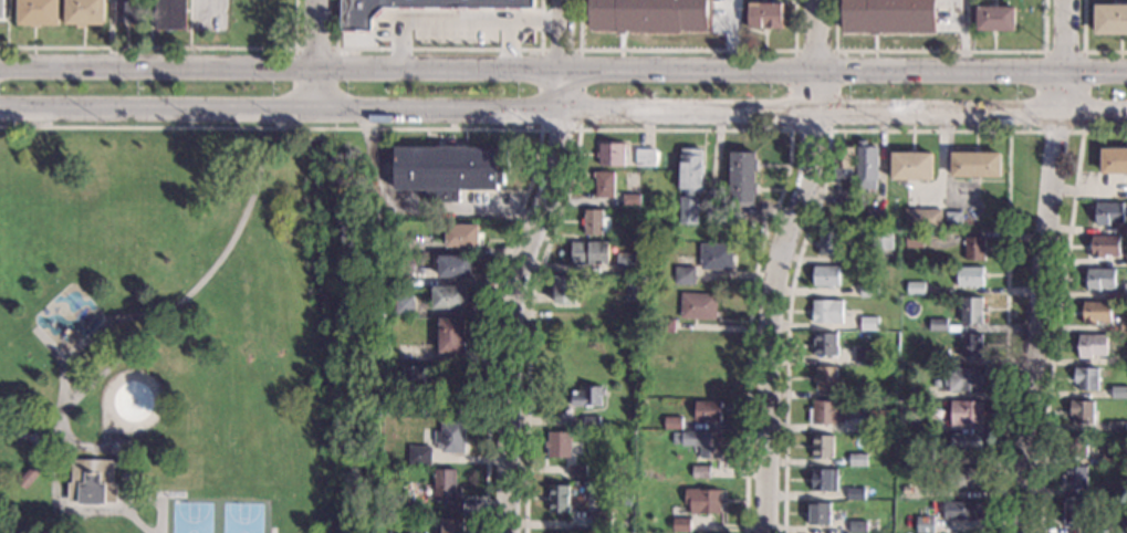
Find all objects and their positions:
building: (238, 2)
building: (269, 4)
building: (1, 9)
road: (196, 11)
building: (38, 12)
building: (84, 12)
building: (126, 12)
building: (170, 14)
building: (647, 14)
building: (765, 15)
building: (888, 17)
road: (149, 19)
building: (357, 19)
building: (995, 19)
building: (1110, 19)
road: (189, 20)
building: (438, 23)
road: (962, 36)
road: (170, 48)
road: (315, 48)
road: (1083, 48)
road: (438, 50)
road: (686, 50)
road: (939, 51)
road: (1082, 52)
road: (317, 54)
road: (563, 71)
road: (563, 112)
road: (541, 127)
road: (477, 128)
road: (827, 128)
road: (681, 129)
building: (611, 156)
building: (646, 158)
building: (1114, 163)
building: (844, 165)
building: (975, 166)
building: (867, 167)
building: (912, 168)
building: (449, 171)
building: (691, 171)
building: (742, 178)
building: (605, 186)
building: (845, 199)
building: (632, 201)
road: (416, 209)
building: (688, 212)
building: (666, 213)
building: (1107, 213)
building: (858, 222)
building: (876, 222)
building: (925, 222)
building: (735, 223)
building: (953, 223)
building: (595, 224)
road: (807, 224)
building: (385, 230)
building: (463, 238)
building: (915, 242)
building: (881, 243)
building: (901, 243)
building: (828, 245)
building: (1105, 249)
building: (974, 251)
building: (591, 255)
building: (716, 259)
building: (1126, 260)
road: (776, 263)
road: (525, 264)
building: (626, 265)
road: (1042, 265)
building: (455, 269)
building: (646, 270)
building: (399, 272)
building: (683, 275)
building: (826, 279)
building: (970, 279)
building: (1102, 281)
building: (916, 290)
building: (565, 292)
building: (630, 292)
building: (869, 292)
building: (1126, 294)
building: (450, 300)
building: (404, 307)
building: (699, 307)
road: (1057, 309)
building: (972, 312)
building: (827, 313)
building: (1096, 315)
building: (869, 325)
building: (938, 326)
building: (1123, 326)
park: (177, 327)
building: (664, 328)
road: (1004, 332)
road: (91, 335)
building: (451, 338)
road: (48, 346)
building: (826, 347)
building: (971, 347)
building: (1092, 348)
road: (123, 353)
building: (864, 356)
building: (938, 360)
building: (1123, 362)
building: (827, 380)
building: (1086, 380)
building: (413, 382)
building: (964, 383)
building: (936, 384)
building: (1119, 395)
building: (885, 396)
building: (588, 399)
building: (643, 407)
building: (393, 411)
building: (708, 414)
building: (1082, 414)
building: (827, 415)
building: (967, 416)
building: (633, 418)
building: (879, 422)
building: (592, 425)
building: (672, 425)
building: (936, 428)
building: (1117, 430)
road: (30, 437)
building: (451, 439)
building: (701, 445)
building: (963, 445)
building: (559, 446)
road: (116, 448)
building: (1076, 448)
building: (822, 449)
building: (419, 458)
building: (921, 459)
building: (1112, 460)
building: (857, 462)
building: (578, 473)
building: (701, 474)
building: (598, 477)
building: (25, 478)
building: (1076, 480)
building: (966, 481)
building: (824, 482)
building: (93, 484)
building: (447, 491)
building: (1112, 491)
building: (907, 492)
building: (1125, 492)
building: (856, 495)
building: (559, 501)
building: (703, 503)
road: (53, 510)
building: (962, 513)
building: (1078, 513)
park: (213, 515)
building: (820, 515)
building: (452, 526)
building: (681, 526)
building: (926, 526)
building: (1123, 526)
building: (615, 527)
building: (856, 527)
building: (416, 532)

